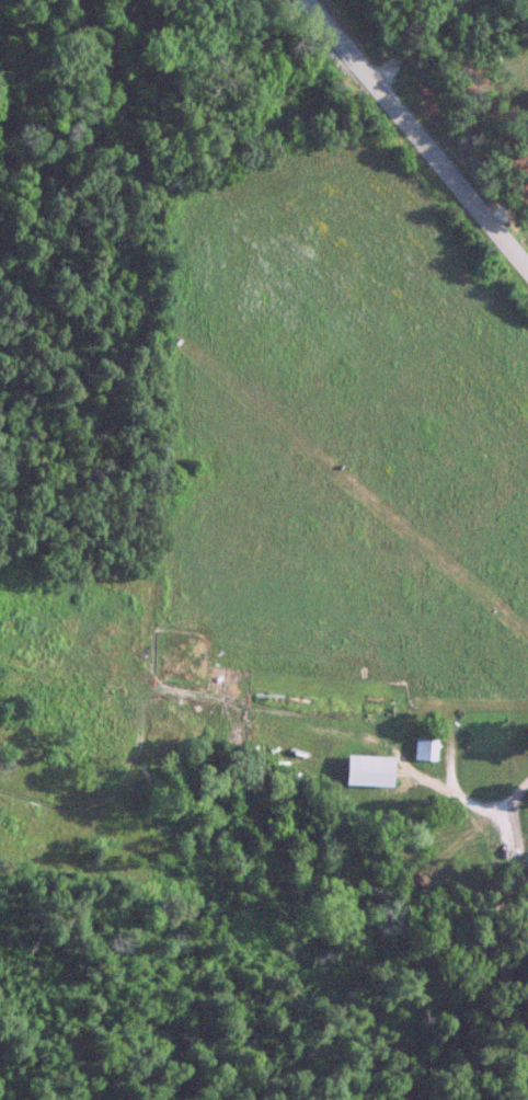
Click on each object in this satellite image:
road: (415, 134)
building: (427, 744)
building: (367, 769)
road: (513, 798)

